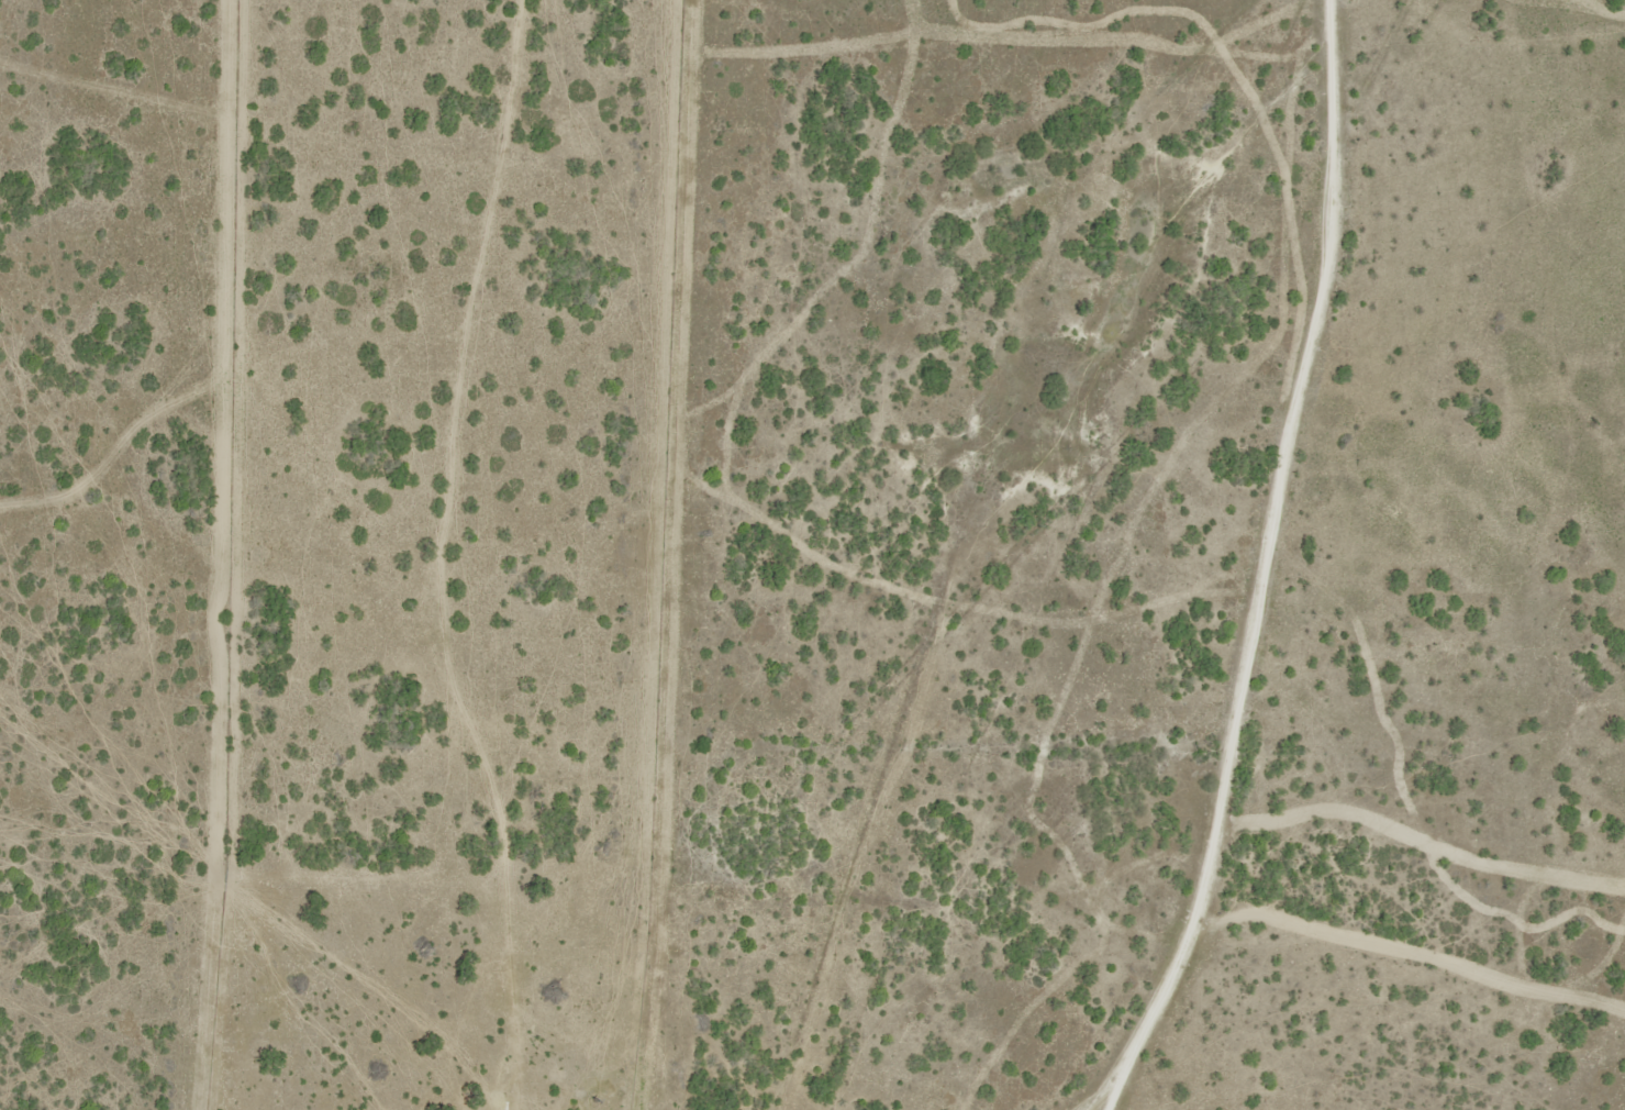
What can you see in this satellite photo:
road: (1292, 570)

